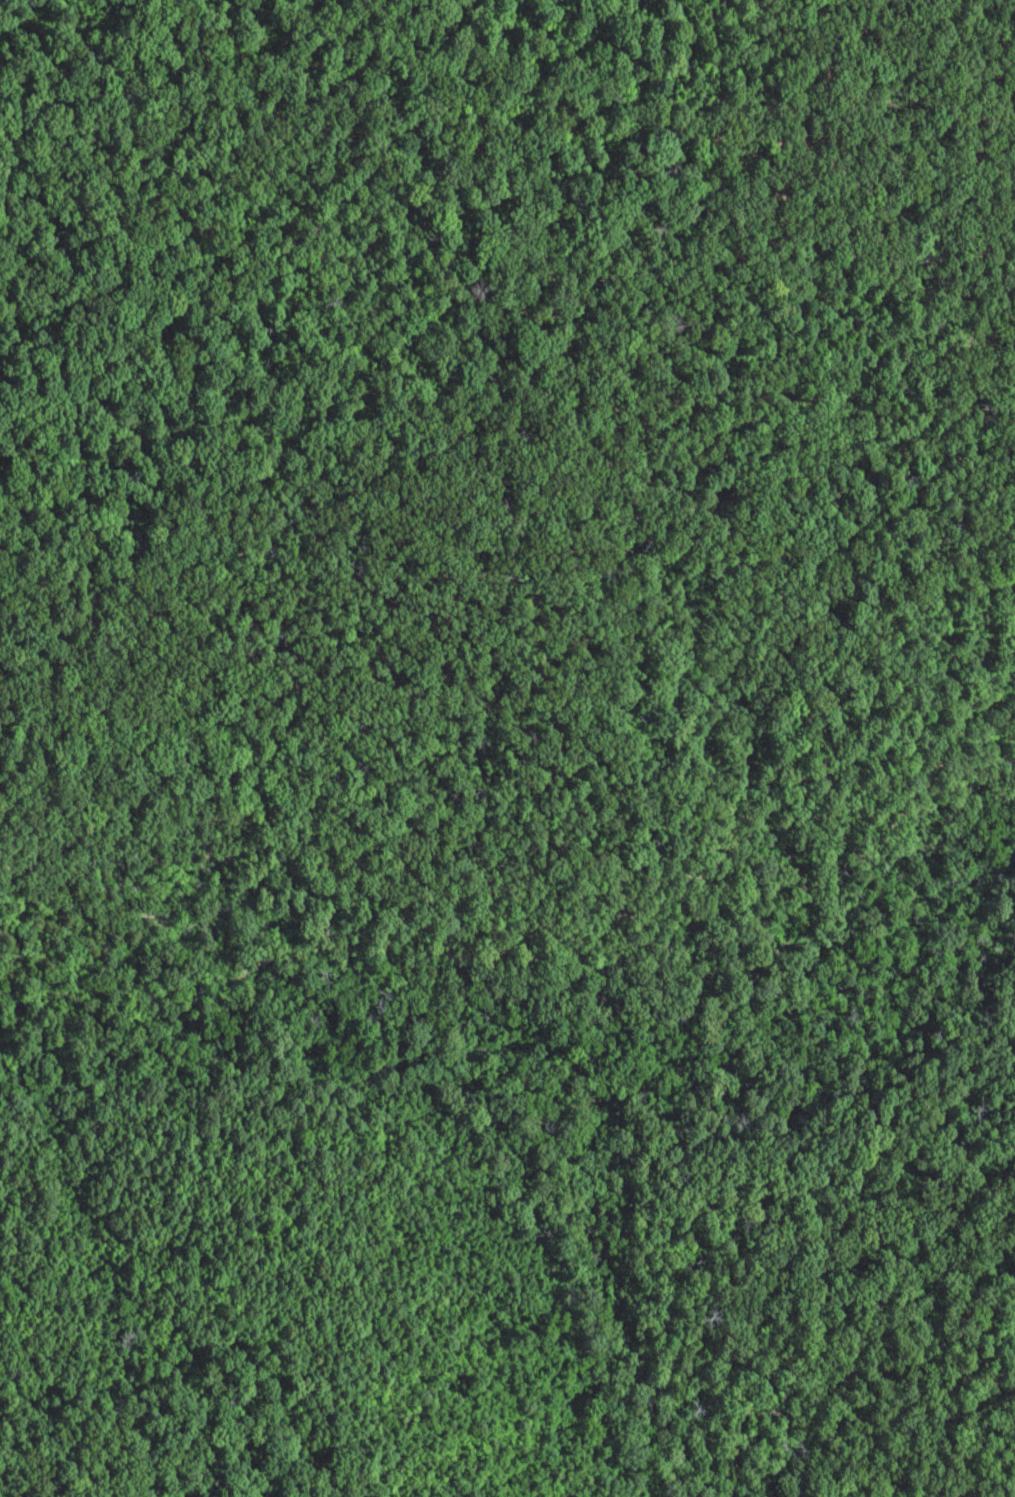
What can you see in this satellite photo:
road: (493, 403)

